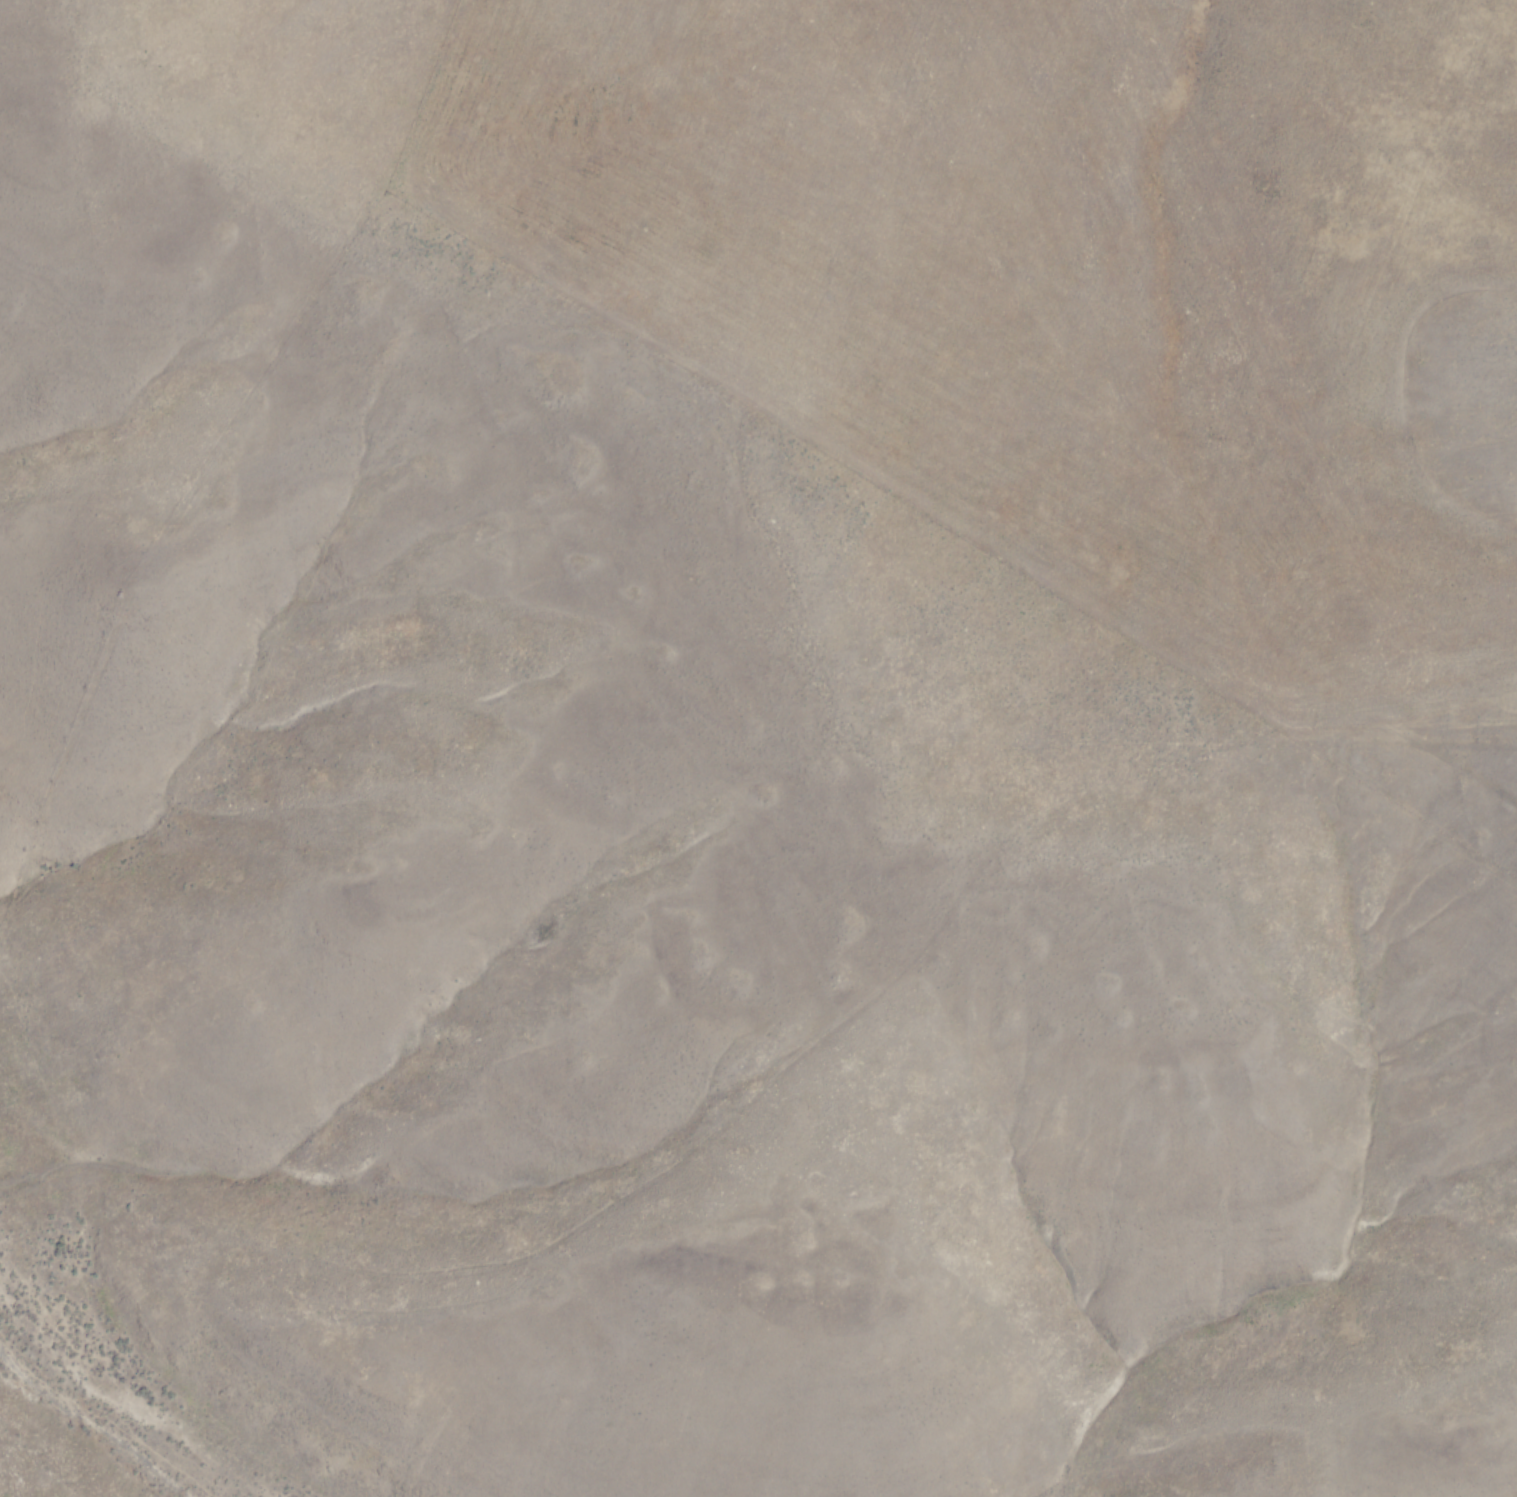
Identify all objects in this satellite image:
road: (1152, 451)

